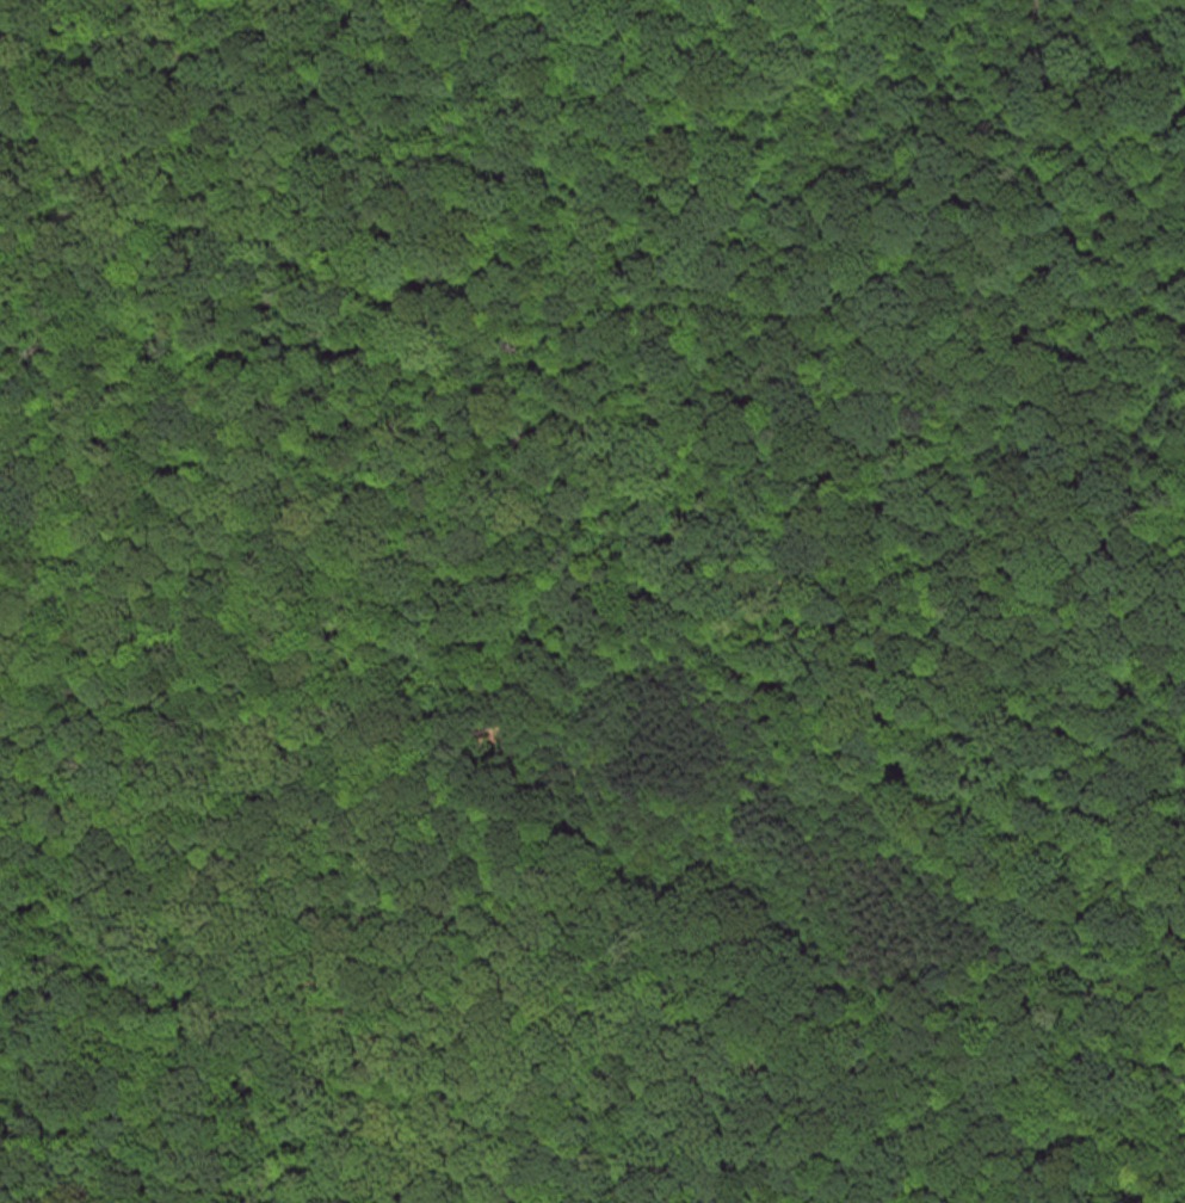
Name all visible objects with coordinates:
park: (592, 601)

